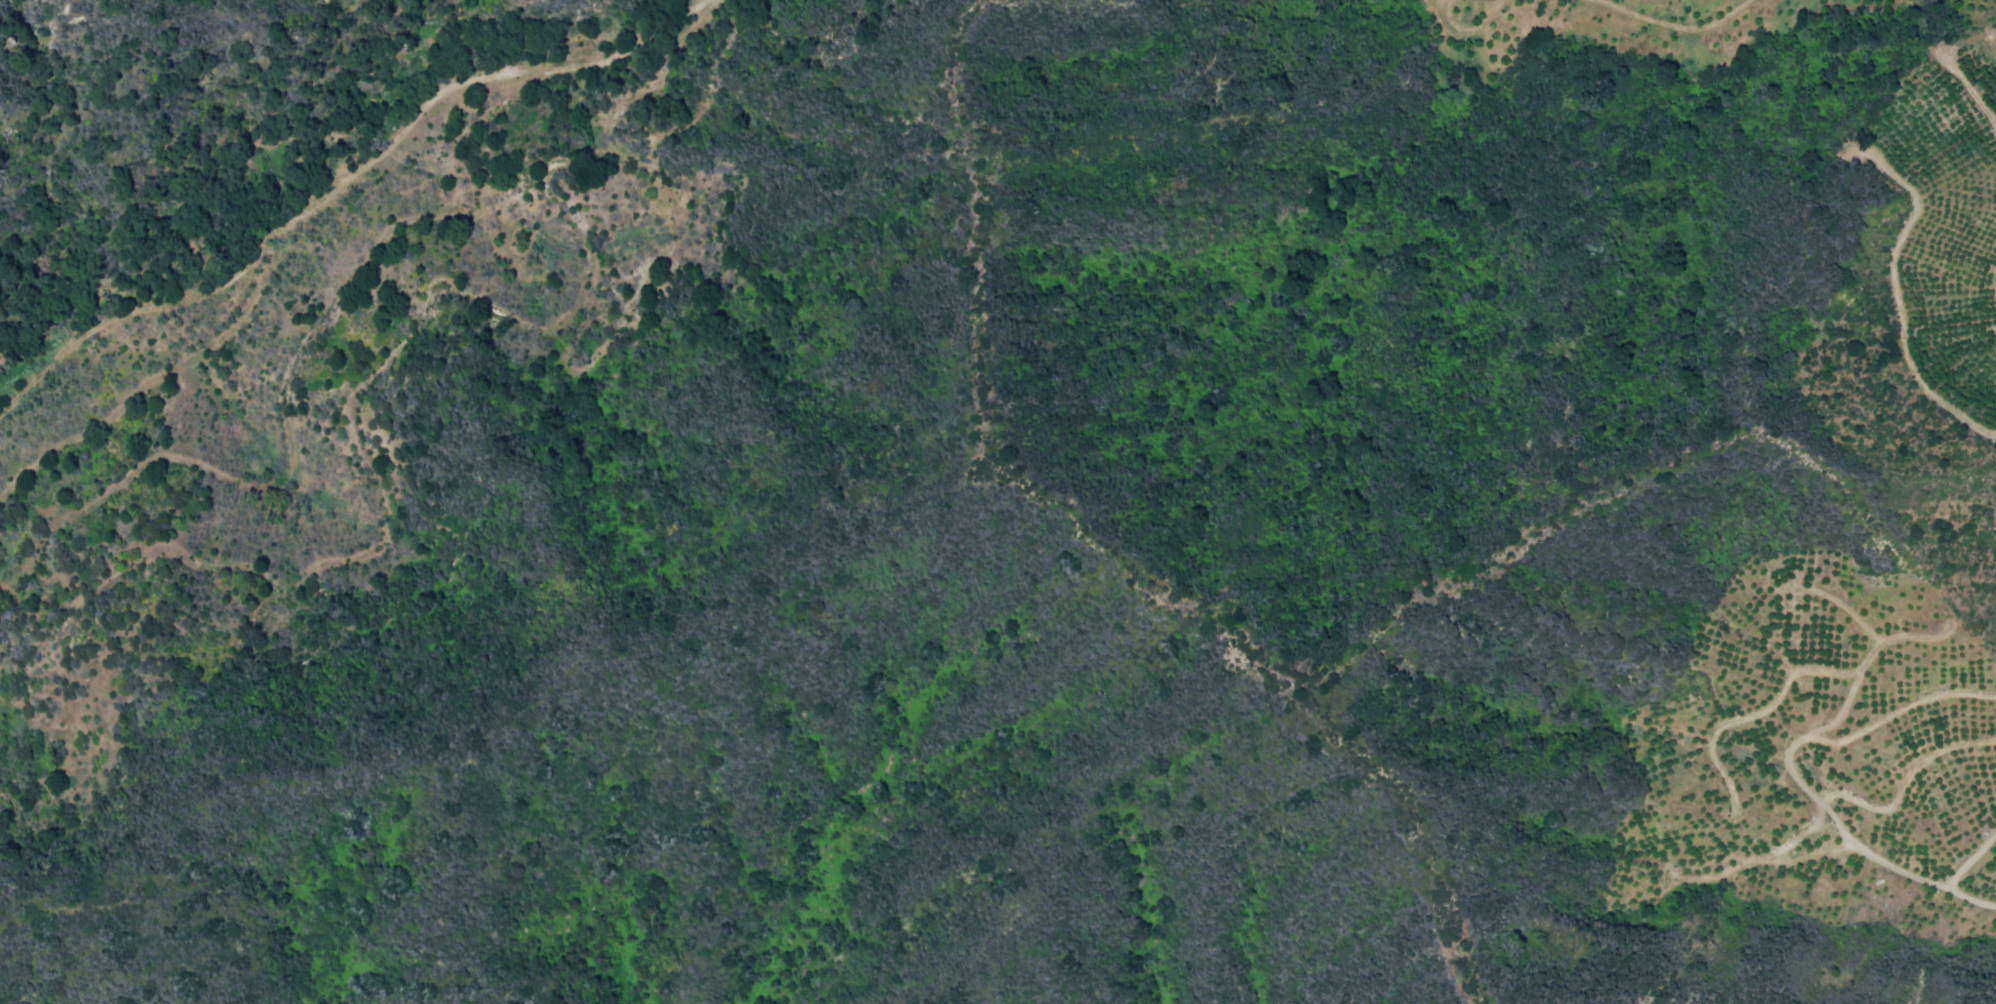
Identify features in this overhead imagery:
crop: (1974, 202)
crop: (1835, 753)

